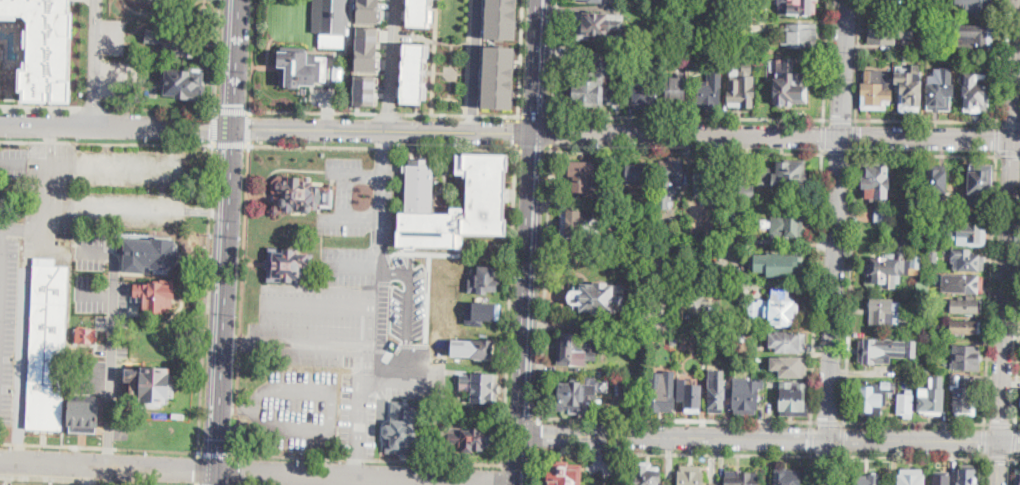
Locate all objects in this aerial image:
building: (673, 0)
building: (604, 1)
building: (898, 1)
building: (796, 6)
building: (976, 6)
building: (368, 11)
building: (419, 12)
building: (629, 12)
building: (501, 19)
building: (331, 21)
building: (599, 25)
building: (746, 25)
building: (759, 26)
building: (888, 31)
building: (663, 35)
building: (800, 35)
parking lot: (113, 36)
building: (974, 37)
building: (175, 41)
building: (45, 48)
building: (367, 48)
building: (688, 52)
building: (635, 55)
road: (217, 56)
road: (252, 56)
road: (520, 57)
road: (554, 57)
road: (826, 59)
road: (858, 59)
road: (95, 63)
road: (999, 63)
road: (392, 65)
road: (476, 66)
building: (300, 67)
road: (844, 69)
road: (635, 71)
building: (340, 72)
building: (414, 72)
building: (499, 77)
parking lot: (118, 81)
building: (787, 84)
building: (185, 85)
building: (595, 87)
building: (711, 87)
building: (742, 87)
building: (365, 89)
building: (876, 90)
building: (909, 90)
building: (974, 91)
building: (640, 93)
building: (676, 93)
building: (939, 93)
parking lot: (323, 96)
road: (41, 106)
road: (94, 107)
road: (161, 109)
traffic signals: (234, 109)
road: (313, 110)
road: (326, 111)
road: (232, 112)
road: (389, 112)
road: (459, 113)
road: (535, 116)
road: (688, 116)
road: (631, 118)
road: (839, 118)
road: (927, 119)
road: (1008, 122)
traffic signals: (211, 128)
road: (214, 128)
traffic signals: (253, 128)
road: (249, 129)
road: (420, 131)
road: (516, 131)
road: (551, 132)
road: (824, 134)
road: (855, 134)
road: (930, 139)
road: (997, 139)
road: (48, 143)
road: (106, 143)
road: (230, 144)
road: (381, 147)
road: (532, 148)
road: (686, 150)
road: (838, 150)
road: (1008, 152)
road: (386, 153)
road: (926, 153)
road: (13, 160)
parking lot: (13, 161)
road: (60, 162)
building: (636, 173)
building: (671, 174)
building: (702, 175)
building: (782, 176)
building: (585, 178)
building: (874, 180)
building: (979, 183)
building: (937, 185)
building: (487, 193)
building: (749, 193)
building: (298, 195)
building: (619, 198)
road: (115, 208)
road: (209, 211)
building: (882, 215)
road: (355, 219)
road: (1007, 219)
parking lot: (76, 222)
building: (787, 224)
building: (580, 226)
building: (966, 234)
road: (229, 235)
building: (696, 236)
building: (663, 239)
building: (929, 241)
road: (530, 242)
building: (937, 245)
road: (594, 247)
building: (152, 255)
building: (933, 256)
road: (1, 259)
building: (967, 260)
building: (695, 261)
building: (777, 262)
building: (287, 265)
road: (351, 265)
building: (893, 267)
building: (479, 278)
parking lot: (101, 281)
road: (545, 284)
road: (816, 284)
road: (850, 284)
building: (965, 284)
road: (990, 286)
road: (659, 287)
building: (922, 287)
parking lot: (658, 288)
road: (95, 293)
building: (156, 296)
building: (598, 297)
road: (205, 298)
road: (241, 299)
road: (318, 305)
building: (964, 305)
road: (510, 306)
building: (478, 309)
building: (775, 310)
road: (372, 311)
road: (832, 311)
building: (881, 312)
building: (903, 320)
road: (407, 321)
road: (592, 324)
parking lot: (350, 325)
building: (963, 327)
building: (705, 334)
building: (86, 336)
building: (643, 338)
road: (112, 341)
building: (674, 342)
building: (786, 342)
building: (471, 344)
building: (705, 346)
building: (48, 347)
building: (741, 347)
parking lot: (113, 348)
building: (578, 349)
building: (884, 350)
road: (369, 355)
building: (967, 358)
building: (760, 359)
building: (748, 362)
building: (792, 366)
road: (1018, 368)
building: (753, 369)
building: (150, 384)
building: (482, 387)
building: (717, 391)
building: (661, 395)
building: (746, 395)
building: (961, 395)
building: (689, 396)
building: (932, 396)
building: (581, 397)
building: (875, 397)
building: (792, 398)
building: (905, 403)
road: (236, 406)
road: (363, 407)
building: (84, 417)
road: (676, 420)
road: (826, 421)
road: (914, 421)
road: (1000, 422)
road: (1018, 422)
road: (250, 427)
building: (402, 429)
road: (539, 435)
road: (760, 435)
road: (43, 437)
building: (464, 437)
road: (811, 437)
road: (842, 438)
road: (82, 439)
road: (983, 439)
road: (1013, 439)
road: (1009, 440)
road: (99, 446)
road: (216, 452)
road: (674, 452)
road: (826, 454)
road: (912, 456)
road: (996, 457)
road: (1015, 458)
road: (369, 459)
road: (996, 462)
road: (359, 464)
road: (108, 466)
road: (197, 468)
road: (537, 468)
road: (233, 469)
road: (810, 469)
road: (841, 470)
road: (981, 471)
road: (1010, 471)
road: (504, 474)
building: (564, 474)
building: (646, 474)
road: (87, 475)
building: (692, 475)
building: (1017, 476)
building: (787, 477)
building: (910, 477)
building: (966, 477)
road: (217, 478)
road: (367, 478)
building: (740, 478)
road: (88, 480)
road: (334, 480)
building: (869, 480)
building: (940, 480)
road: (8, 481)
road: (382, 481)
road: (474, 483)

